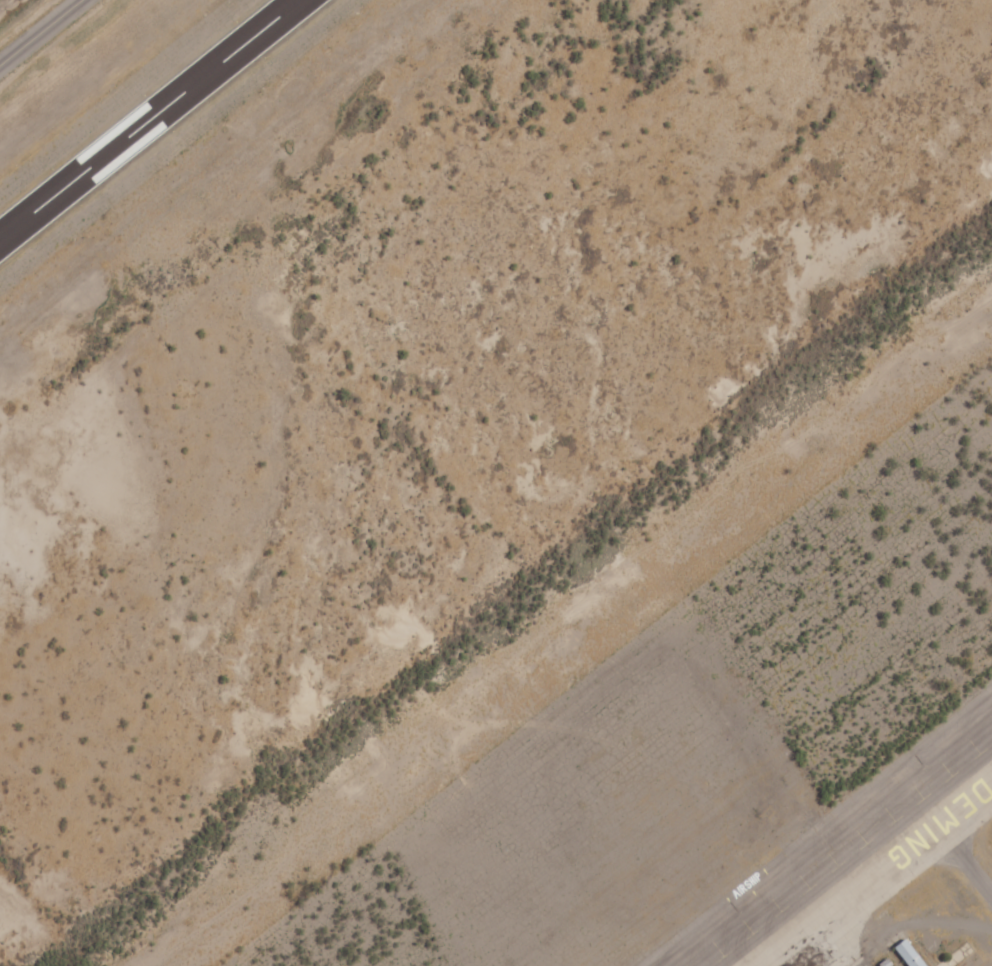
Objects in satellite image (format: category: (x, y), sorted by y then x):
park: (4, 3)
airport taxiway: (40, 32)
airport runway: (148, 118)
airport taxiway: (879, 877)
building: (912, 953)

